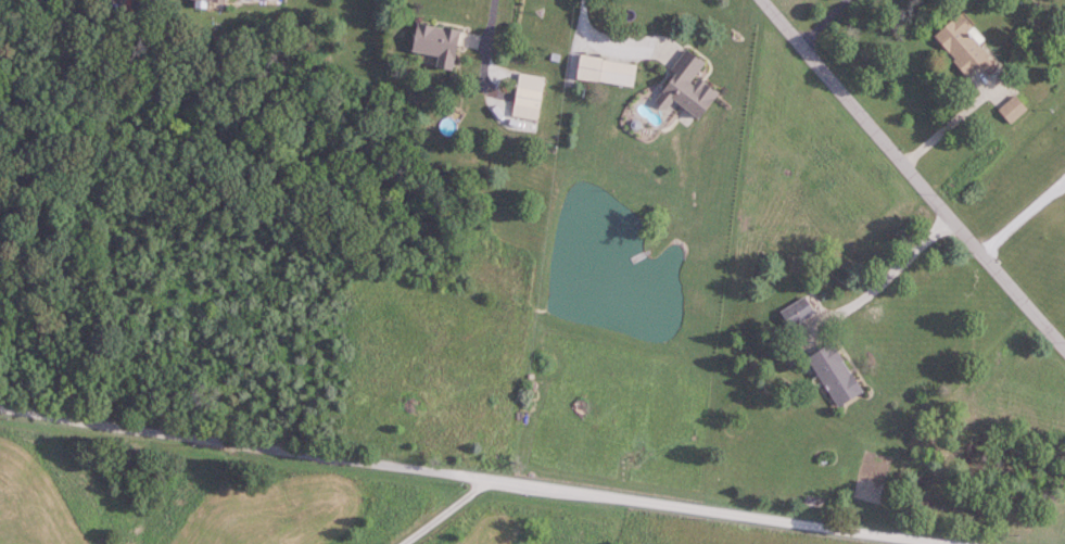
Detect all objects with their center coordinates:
road: (820, 22)
road: (591, 36)
building: (438, 40)
building: (966, 48)
road: (473, 58)
building: (608, 71)
building: (689, 86)
building: (530, 96)
building: (1014, 109)
road: (946, 126)
road: (913, 175)
road: (1020, 215)
road: (902, 258)
building: (799, 311)
building: (837, 374)
road: (474, 478)
road: (445, 511)

